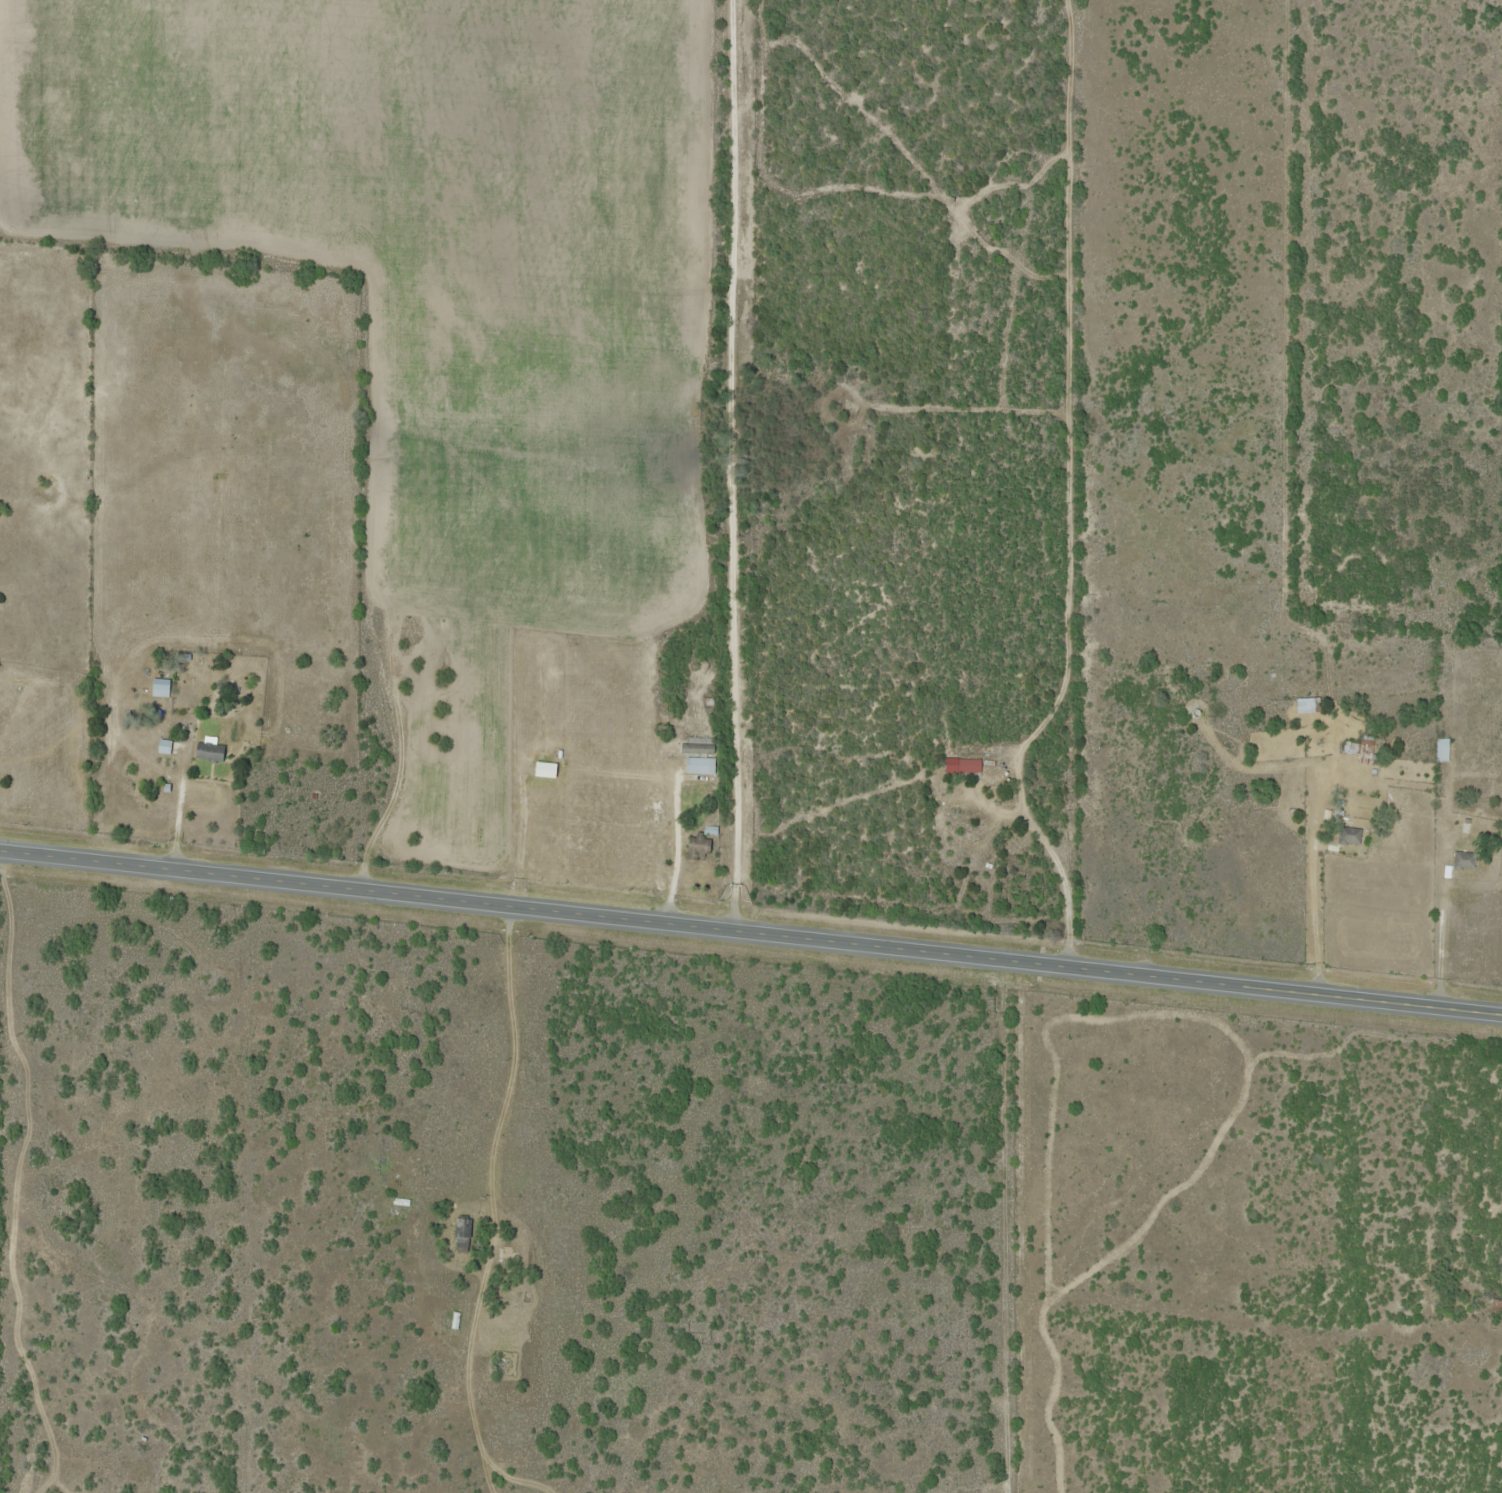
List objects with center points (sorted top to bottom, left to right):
road: (699, 464)
building: (1441, 676)
building: (158, 688)
building: (1304, 706)
building: (161, 749)
building: (1440, 750)
building: (207, 752)
building: (698, 765)
building: (967, 766)
building: (1348, 836)
building: (695, 850)
building: (1462, 861)
road: (750, 935)
building: (460, 1236)
building: (1495, 1304)

